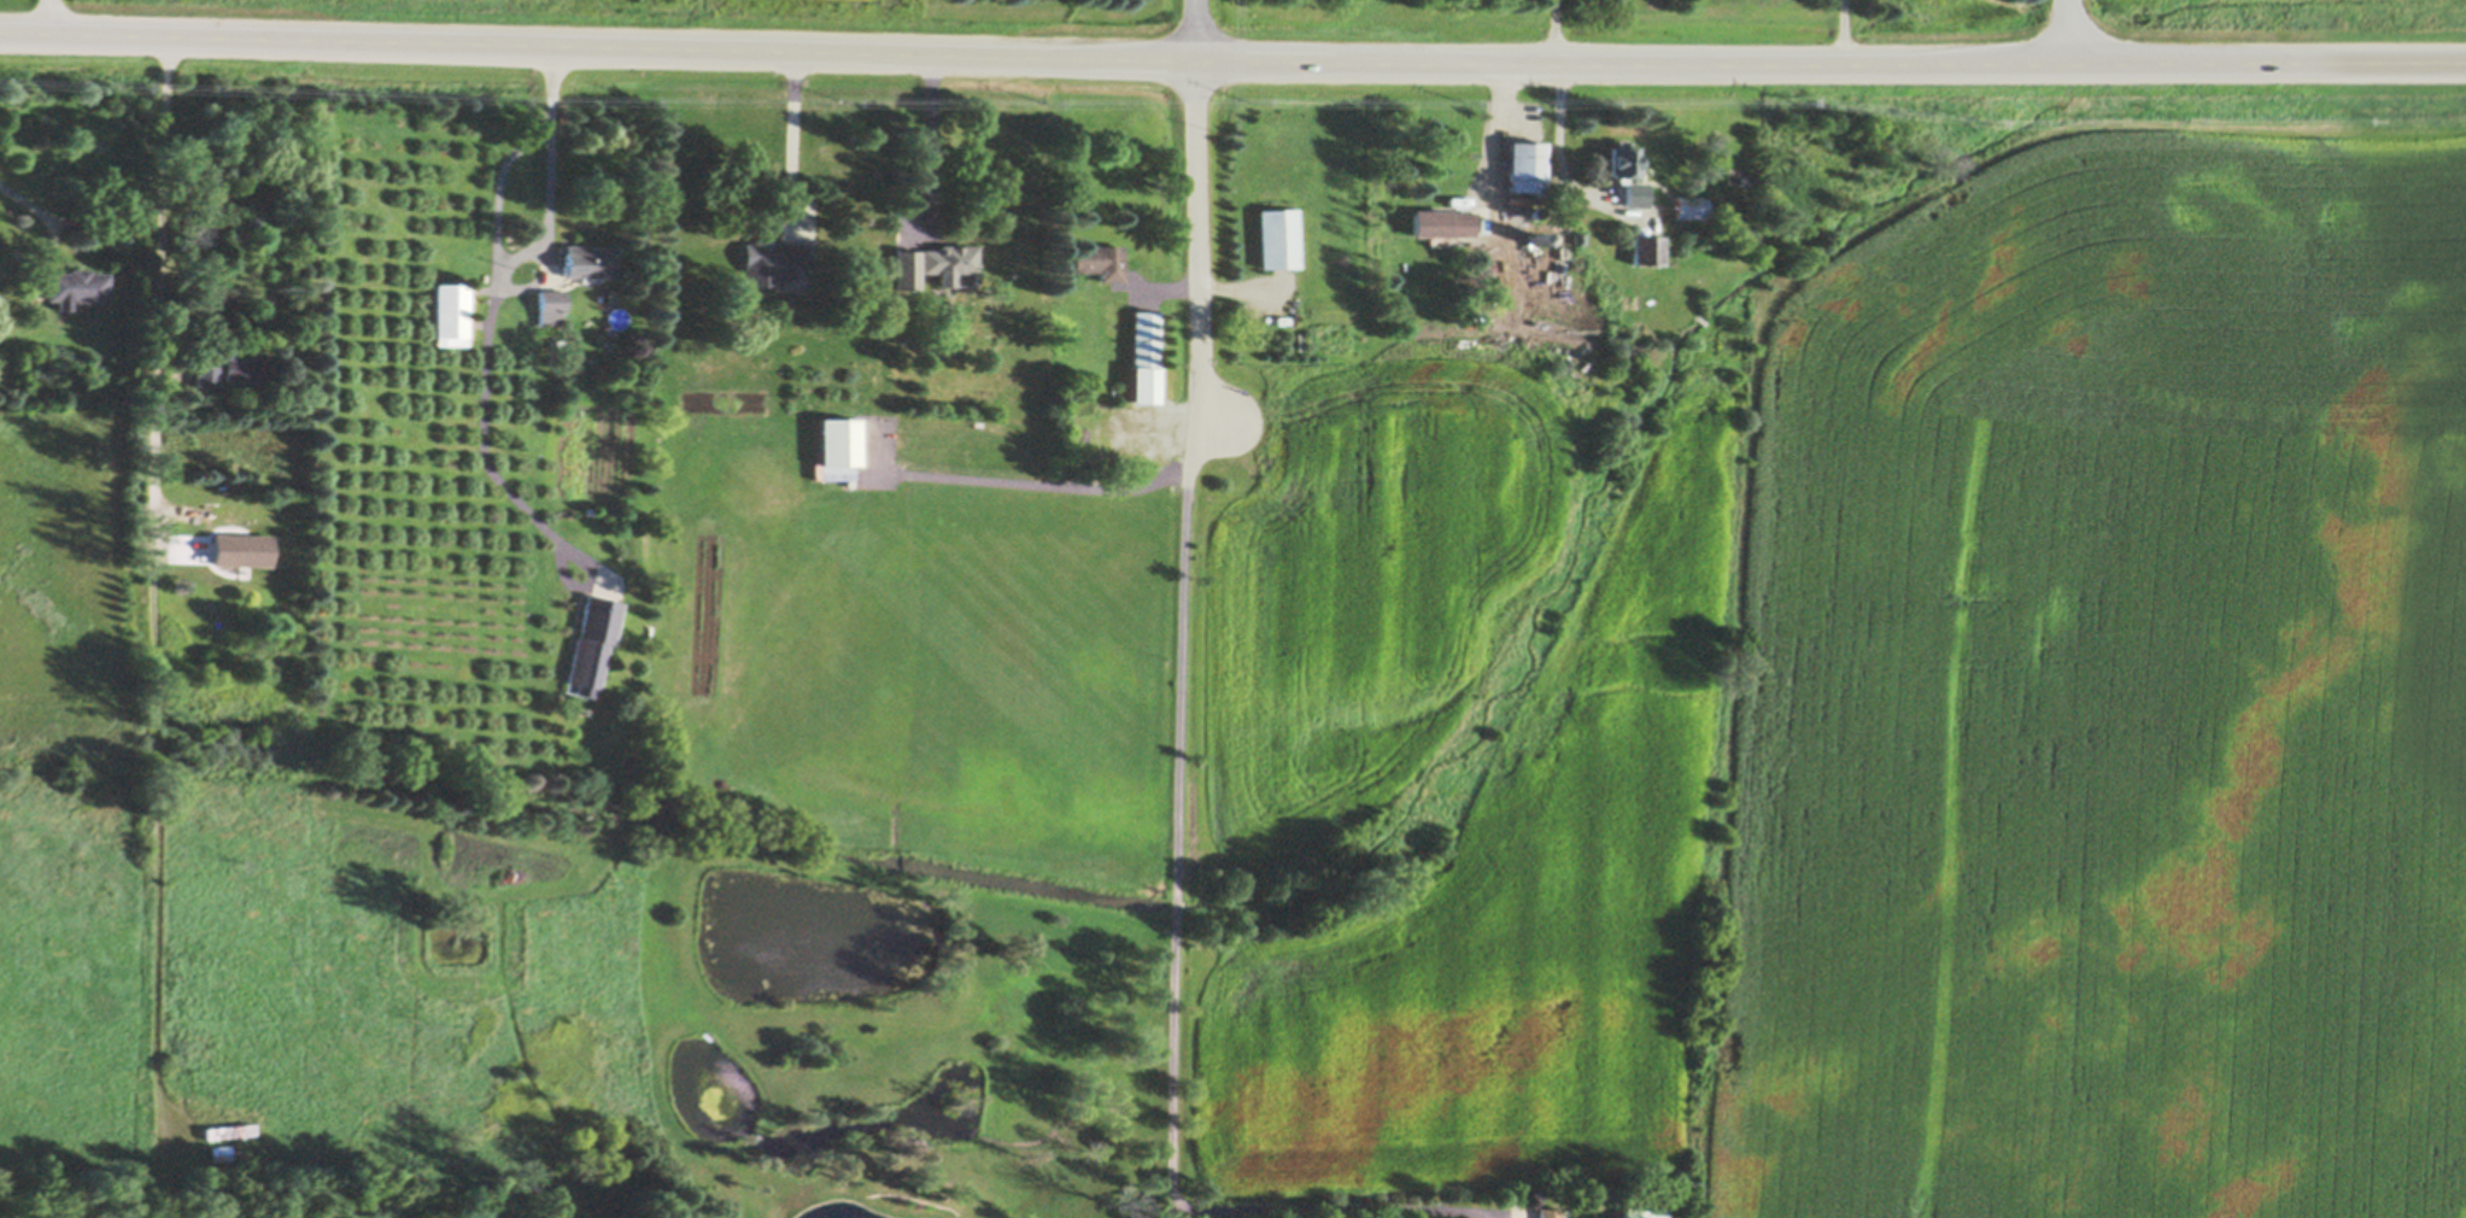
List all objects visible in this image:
road: (49, 17)
road: (2066, 33)
road: (1232, 60)
road: (791, 142)
road: (1501, 145)
road: (929, 147)
building: (1623, 162)
building: (1527, 168)
building: (1746, 181)
building: (1635, 197)
road: (160, 205)
building: (1691, 206)
building: (1535, 212)
road: (1200, 216)
building: (1442, 224)
building: (1534, 239)
building: (1278, 240)
building: (1578, 241)
road: (546, 248)
building: (1648, 251)
building: (950, 259)
building: (773, 262)
building: (591, 263)
building: (1100, 263)
building: (1553, 269)
building: (908, 270)
building: (76, 288)
building: (552, 306)
building: (452, 315)
building: (1143, 359)
building: (246, 370)
building: (207, 376)
building: (838, 450)
road: (492, 473)
road: (1032, 479)
building: (615, 513)
building: (225, 533)
building: (593, 642)
road: (1179, 810)
building: (232, 1134)
building: (222, 1154)
building: (207, 1175)
road: (1341, 1208)
road: (1171, 1211)
building: (1644, 1213)
building: (1548, 1214)
building: (203, 1216)

